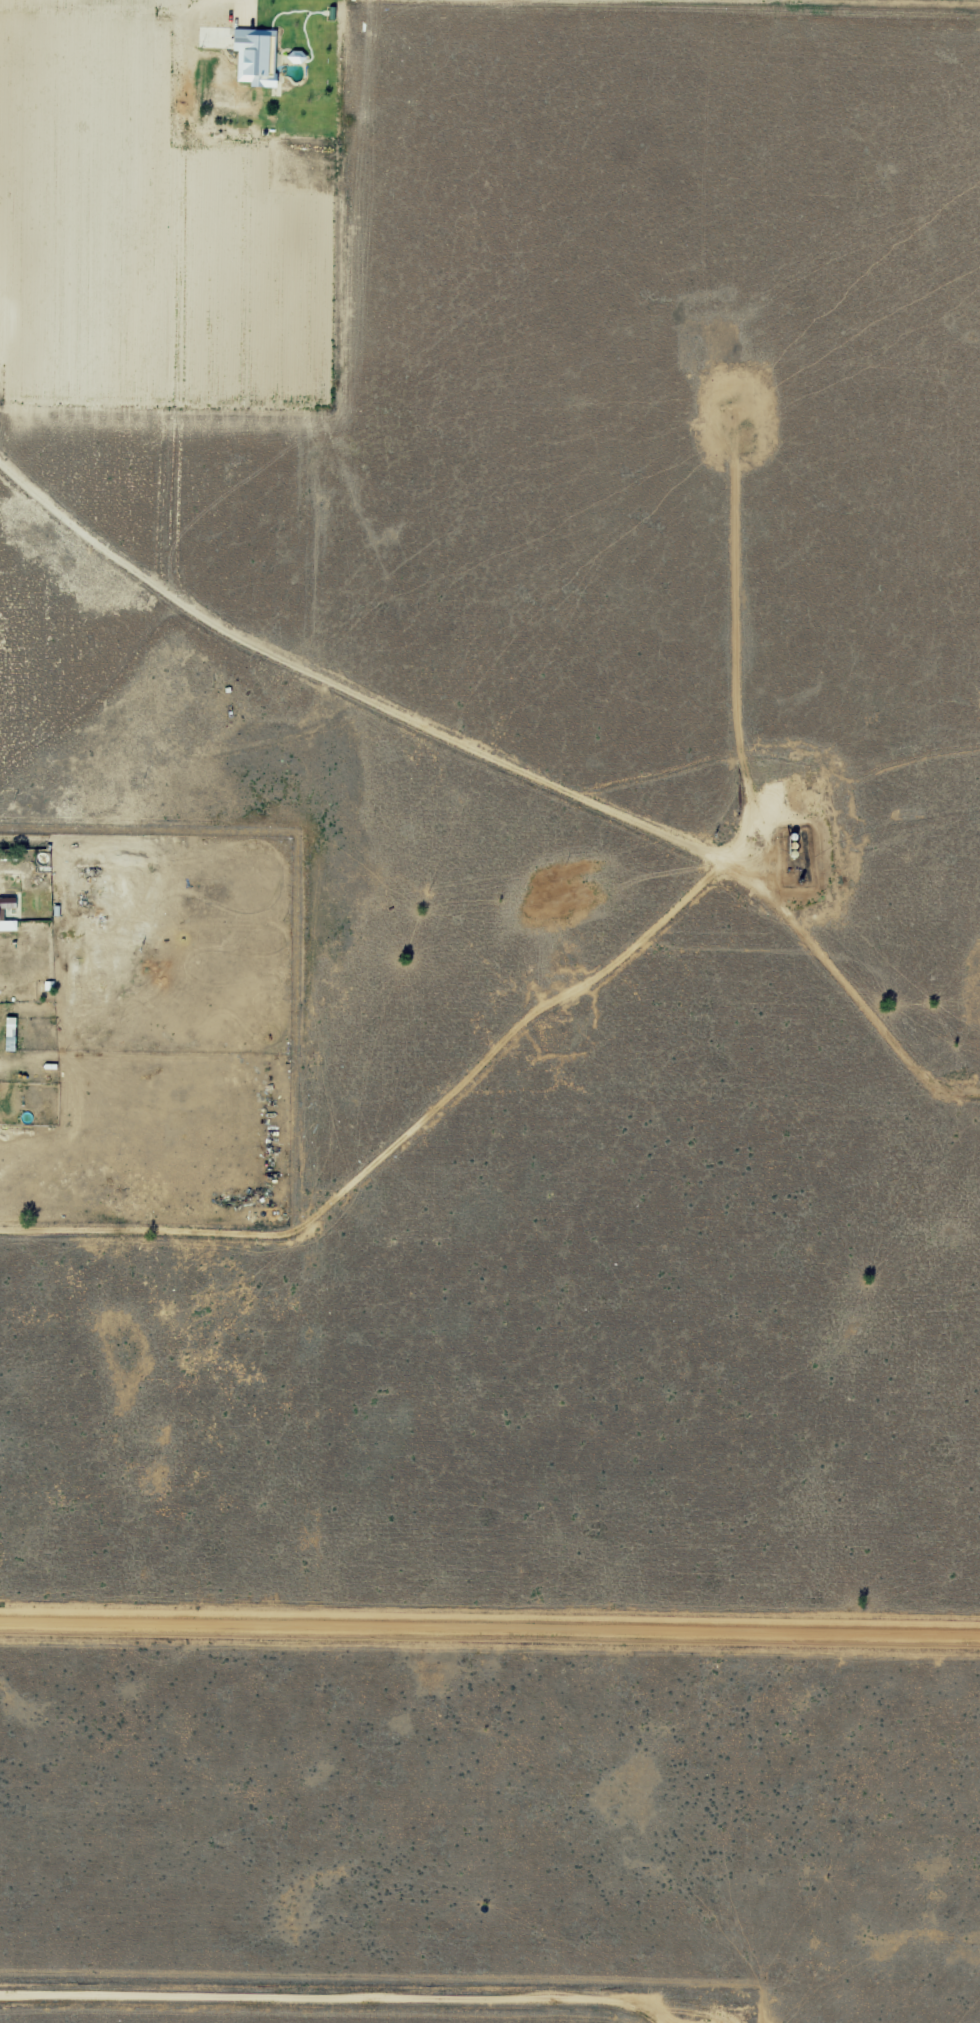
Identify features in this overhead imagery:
road: (490, 31)
building: (8, 902)
road: (490, 1637)
road: (346, 2010)

